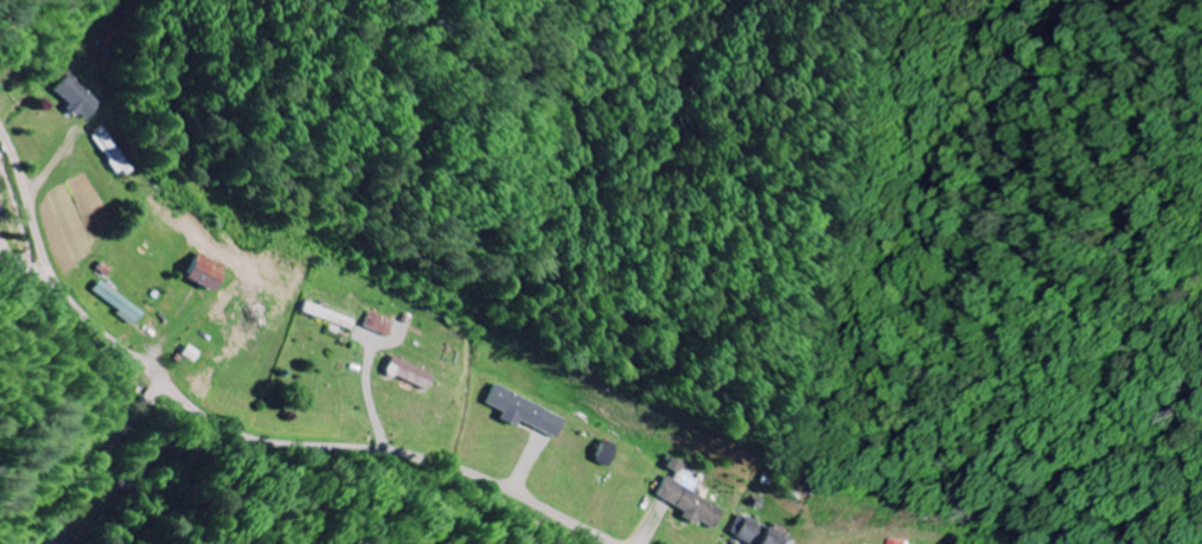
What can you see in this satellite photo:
road: (159, 20)
building: (76, 98)
building: (113, 152)
building: (203, 273)
building: (117, 302)
building: (328, 316)
building: (379, 325)
building: (409, 373)
building: (200, 391)
building: (524, 412)
road: (241, 430)
building: (605, 454)
road: (110, 461)
building: (690, 504)
building: (759, 535)
building: (891, 543)

